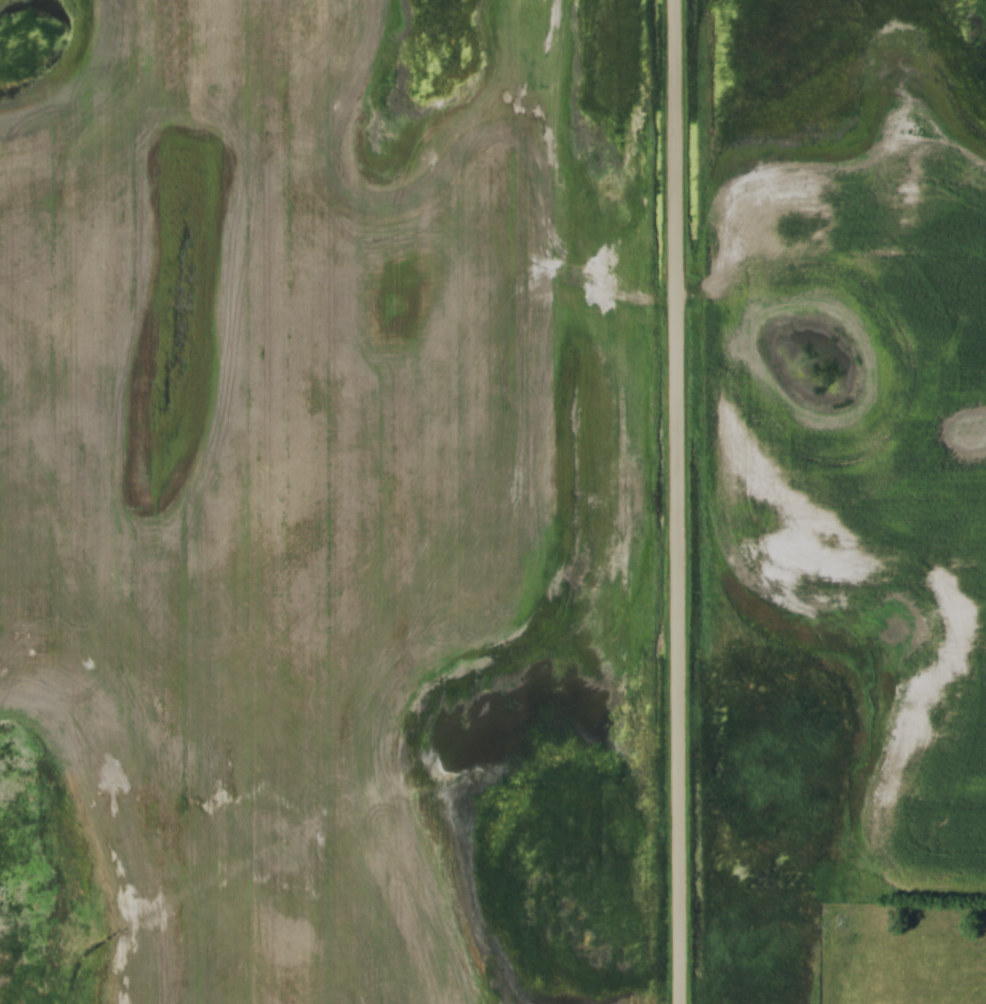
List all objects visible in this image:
road: (675, 502)

